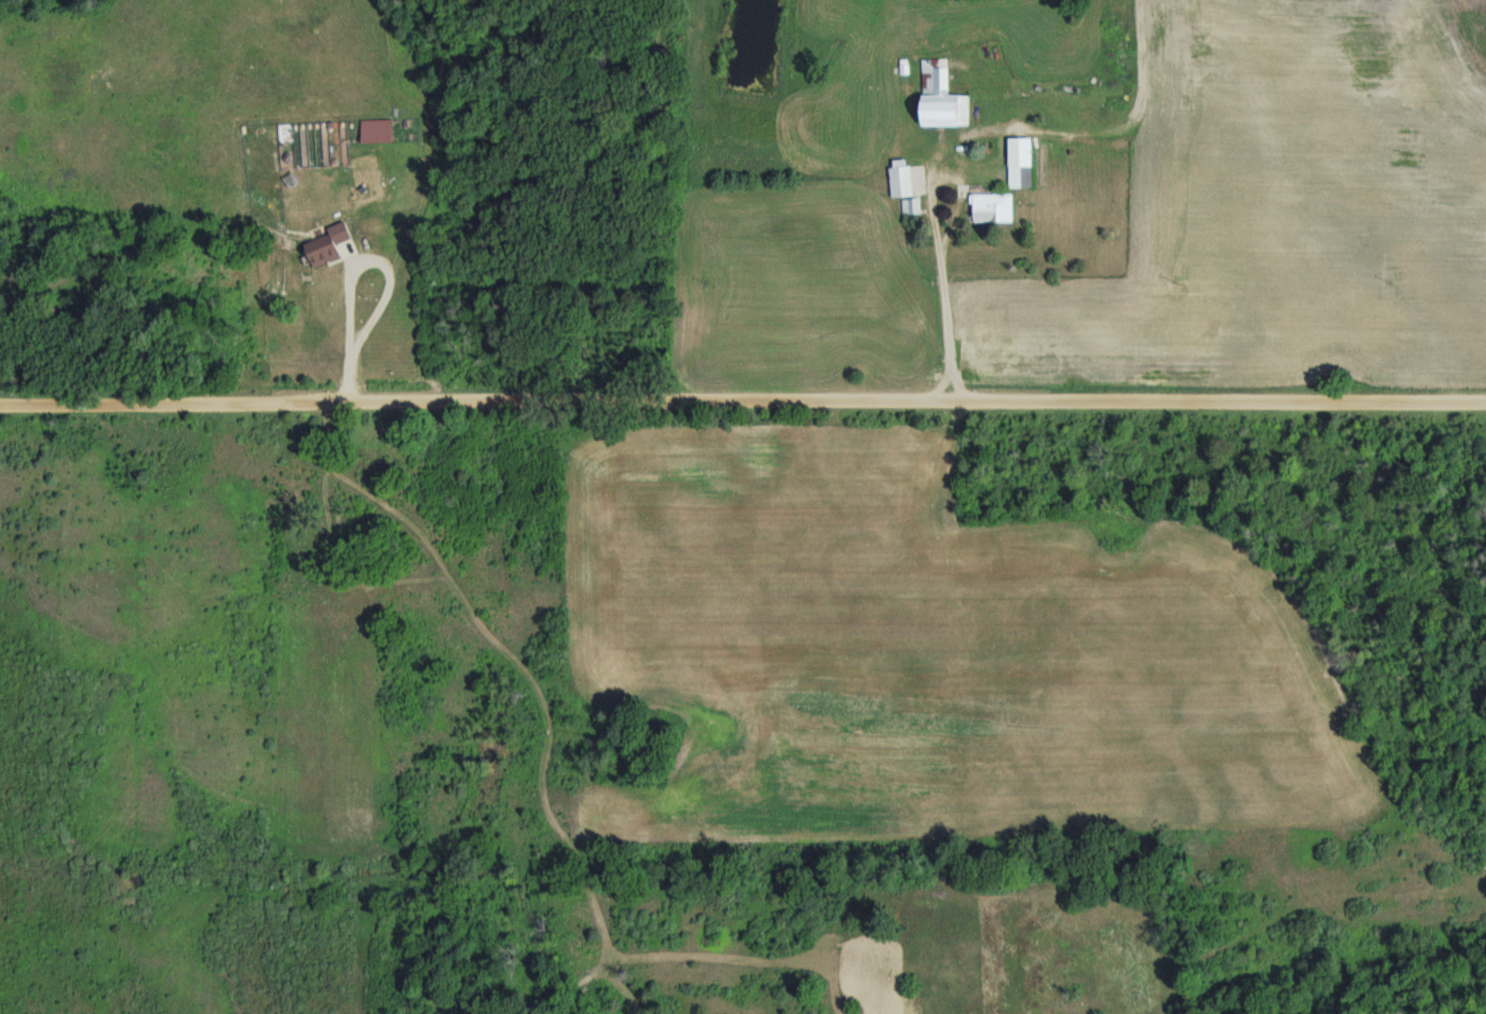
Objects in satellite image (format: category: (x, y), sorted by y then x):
building: (942, 97)
road: (1081, 135)
building: (1022, 162)
building: (902, 178)
building: (910, 207)
building: (995, 208)
road: (356, 264)
road: (940, 287)
road: (743, 400)

